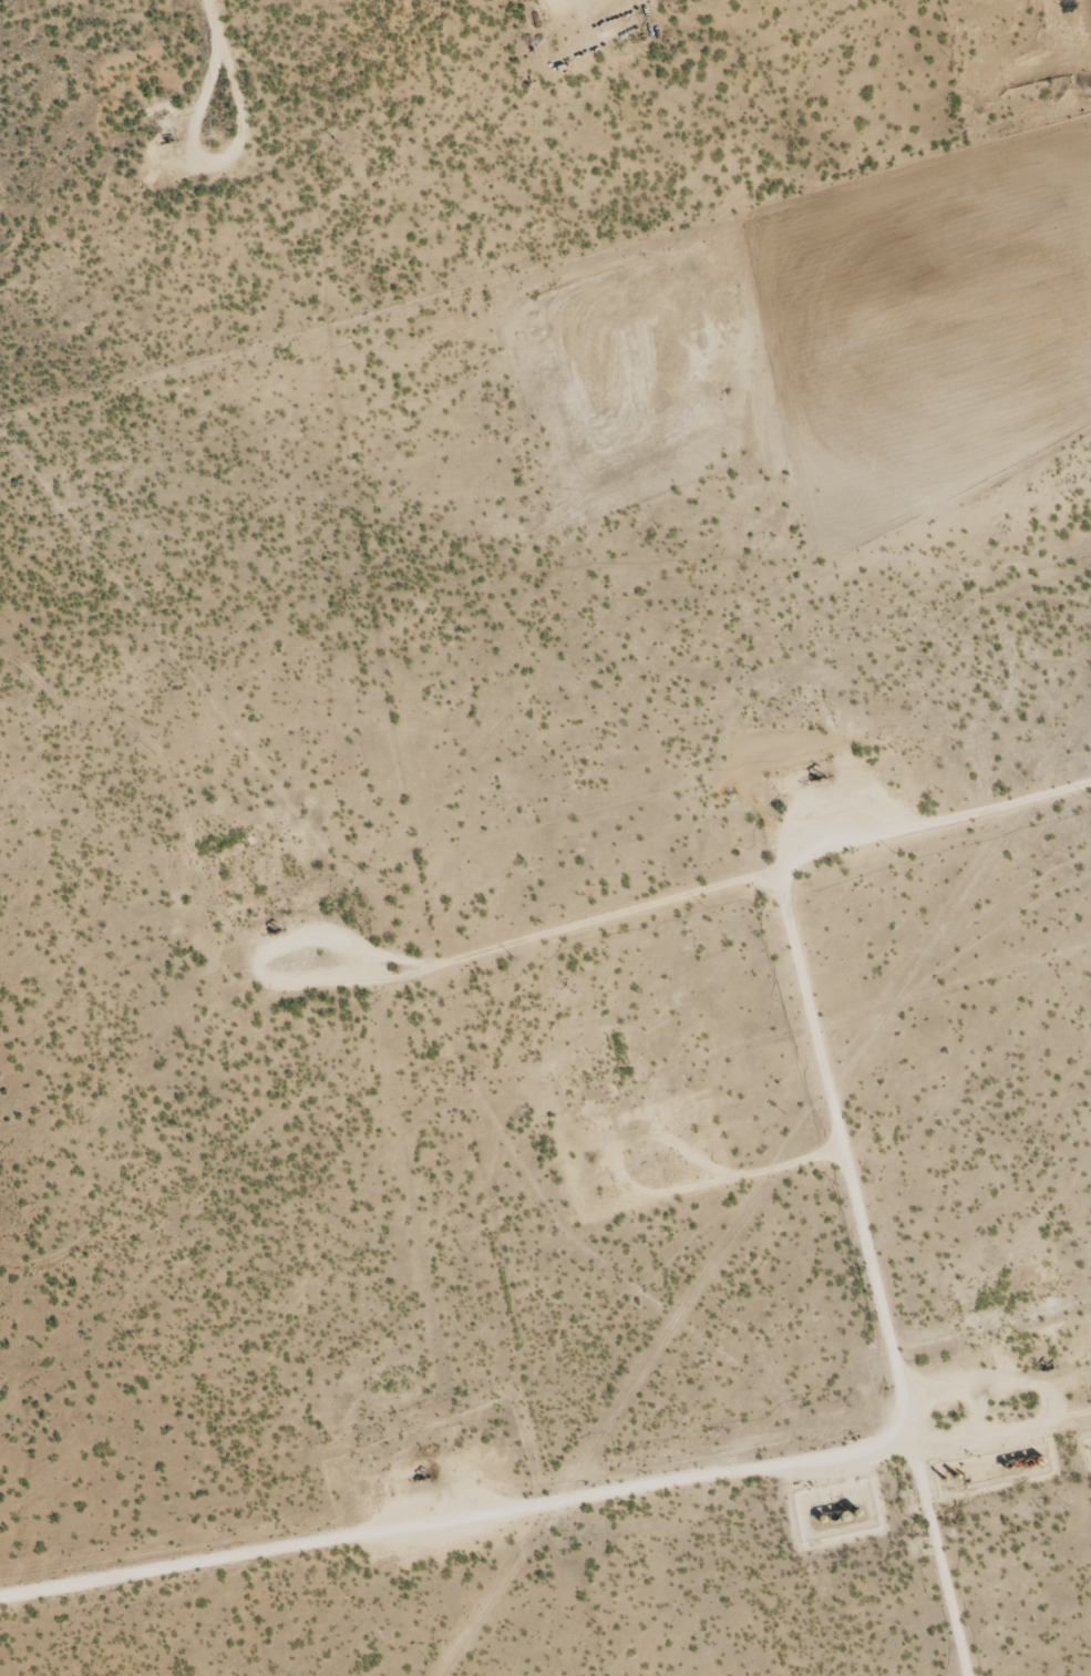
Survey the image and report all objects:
road: (213, 6)

